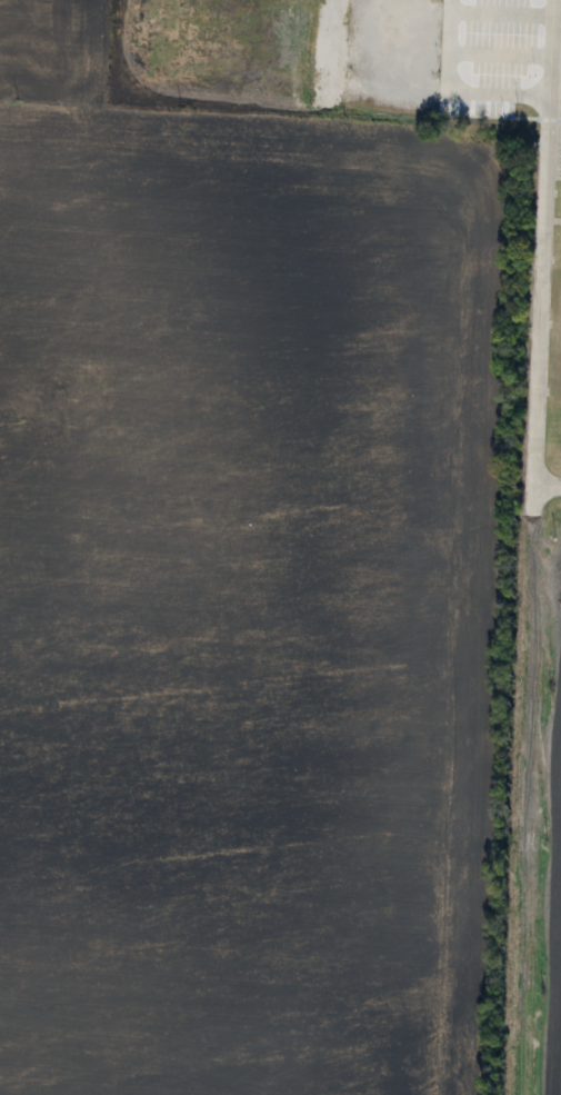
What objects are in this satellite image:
road: (501, 16)
road: (499, 54)
road: (500, 92)
road: (538, 305)

